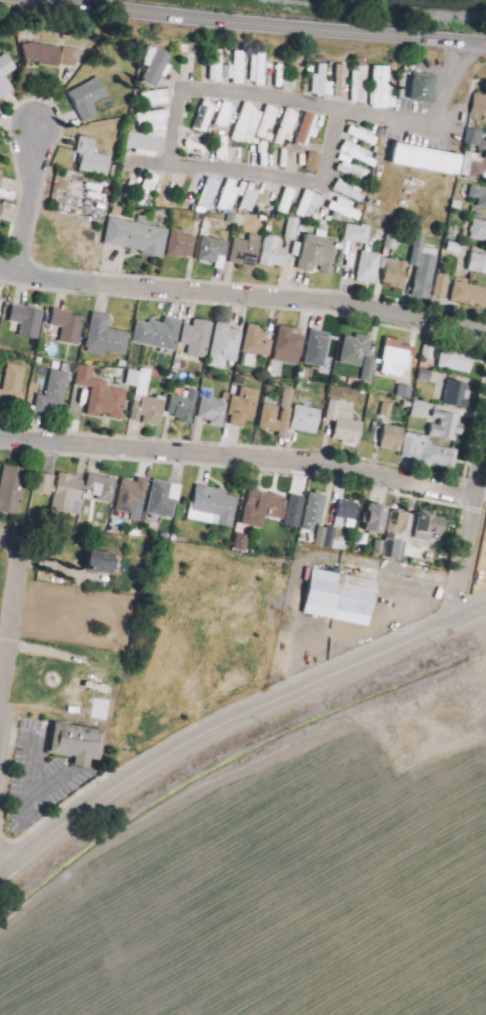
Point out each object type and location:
road: (265, 25)
building: (58, 55)
building: (158, 65)
building: (202, 65)
building: (242, 67)
building: (235, 68)
building: (214, 69)
building: (221, 69)
building: (262, 70)
building: (8, 75)
building: (304, 79)
building: (323, 80)
building: (344, 81)
building: (362, 86)
building: (425, 87)
building: (386, 88)
building: (89, 98)
building: (159, 98)
road: (313, 102)
building: (480, 105)
building: (207, 116)
building: (154, 117)
building: (227, 119)
building: (247, 123)
building: (270, 124)
building: (287, 127)
building: (309, 130)
building: (365, 136)
building: (477, 138)
building: (147, 142)
building: (362, 155)
building: (95, 156)
building: (430, 157)
building: (312, 163)
building: (480, 168)
building: (354, 172)
road: (268, 174)
building: (2, 180)
building: (147, 187)
building: (169, 190)
building: (352, 191)
building: (209, 192)
building: (479, 194)
building: (231, 196)
building: (252, 197)
building: (288, 200)
road: (31, 202)
building: (310, 205)
building: (0, 207)
building: (344, 208)
building: (0, 225)
building: (290, 228)
building: (480, 231)
building: (358, 233)
building: (140, 236)
park: (68, 241)
building: (184, 245)
building: (215, 249)
building: (249, 250)
building: (276, 253)
building: (321, 254)
building: (478, 263)
building: (428, 266)
building: (371, 271)
building: (399, 271)
building: (462, 292)
road: (243, 295)
building: (2, 306)
building: (30, 319)
building: (70, 325)
building: (161, 333)
building: (109, 337)
building: (199, 339)
building: (257, 341)
building: (291, 345)
building: (227, 346)
building: (318, 348)
building: (359, 350)
building: (398, 359)
building: (459, 361)
building: (13, 383)
building: (56, 391)
building: (402, 391)
building: (457, 393)
building: (104, 395)
building: (186, 407)
building: (245, 407)
building: (384, 410)
building: (417, 410)
building: (151, 411)
building: (215, 411)
building: (309, 420)
building: (276, 421)
building: (347, 422)
building: (450, 425)
building: (395, 439)
building: (428, 452)
road: (237, 456)
building: (13, 489)
building: (102, 490)
building: (69, 493)
building: (135, 498)
building: (165, 499)
building: (218, 503)
building: (265, 508)
building: (292, 511)
building: (315, 512)
building: (377, 517)
road: (467, 523)
building: (433, 524)
building: (342, 525)
building: (399, 536)
building: (240, 543)
building: (103, 560)
park: (2, 564)
building: (343, 597)
road: (13, 617)
park: (154, 641)
road: (231, 720)
building: (80, 741)
parking lot: (40, 780)
road: (187, 809)
crop: (275, 847)

